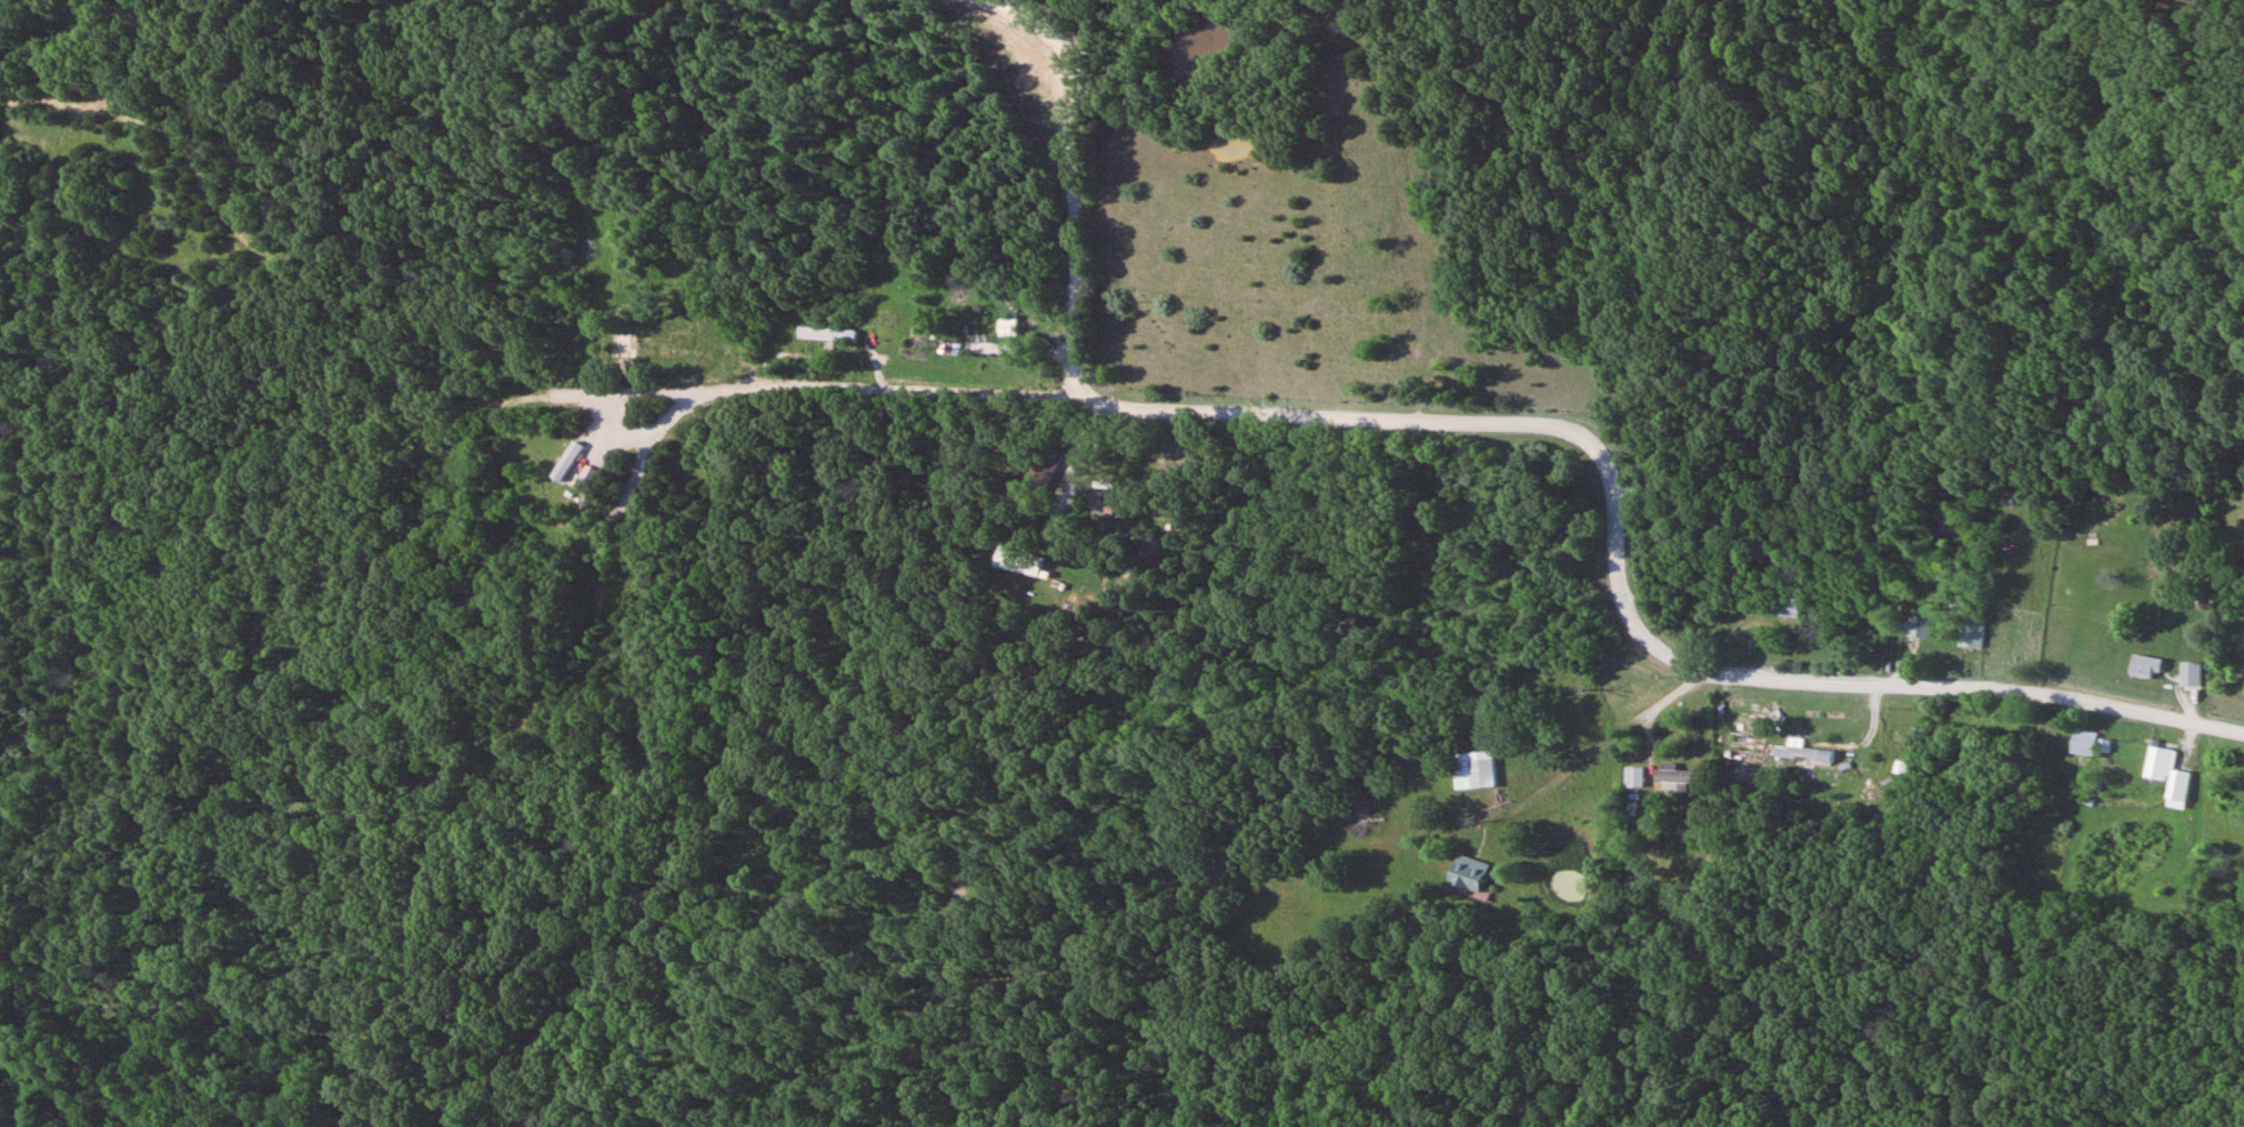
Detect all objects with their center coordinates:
building: (1009, 328)
building: (831, 335)
building: (684, 345)
building: (988, 349)
building: (915, 350)
road: (842, 384)
road: (1536, 427)
building: (1051, 464)
road: (1085, 467)
building: (1024, 561)
building: (1793, 608)
building: (1919, 627)
building: (1972, 636)
building: (2146, 667)
building: (2192, 674)
building: (2085, 743)
road: (1639, 769)
building: (1476, 771)
building: (2168, 774)
building: (1636, 777)
building: (1677, 777)
building: (1468, 874)

